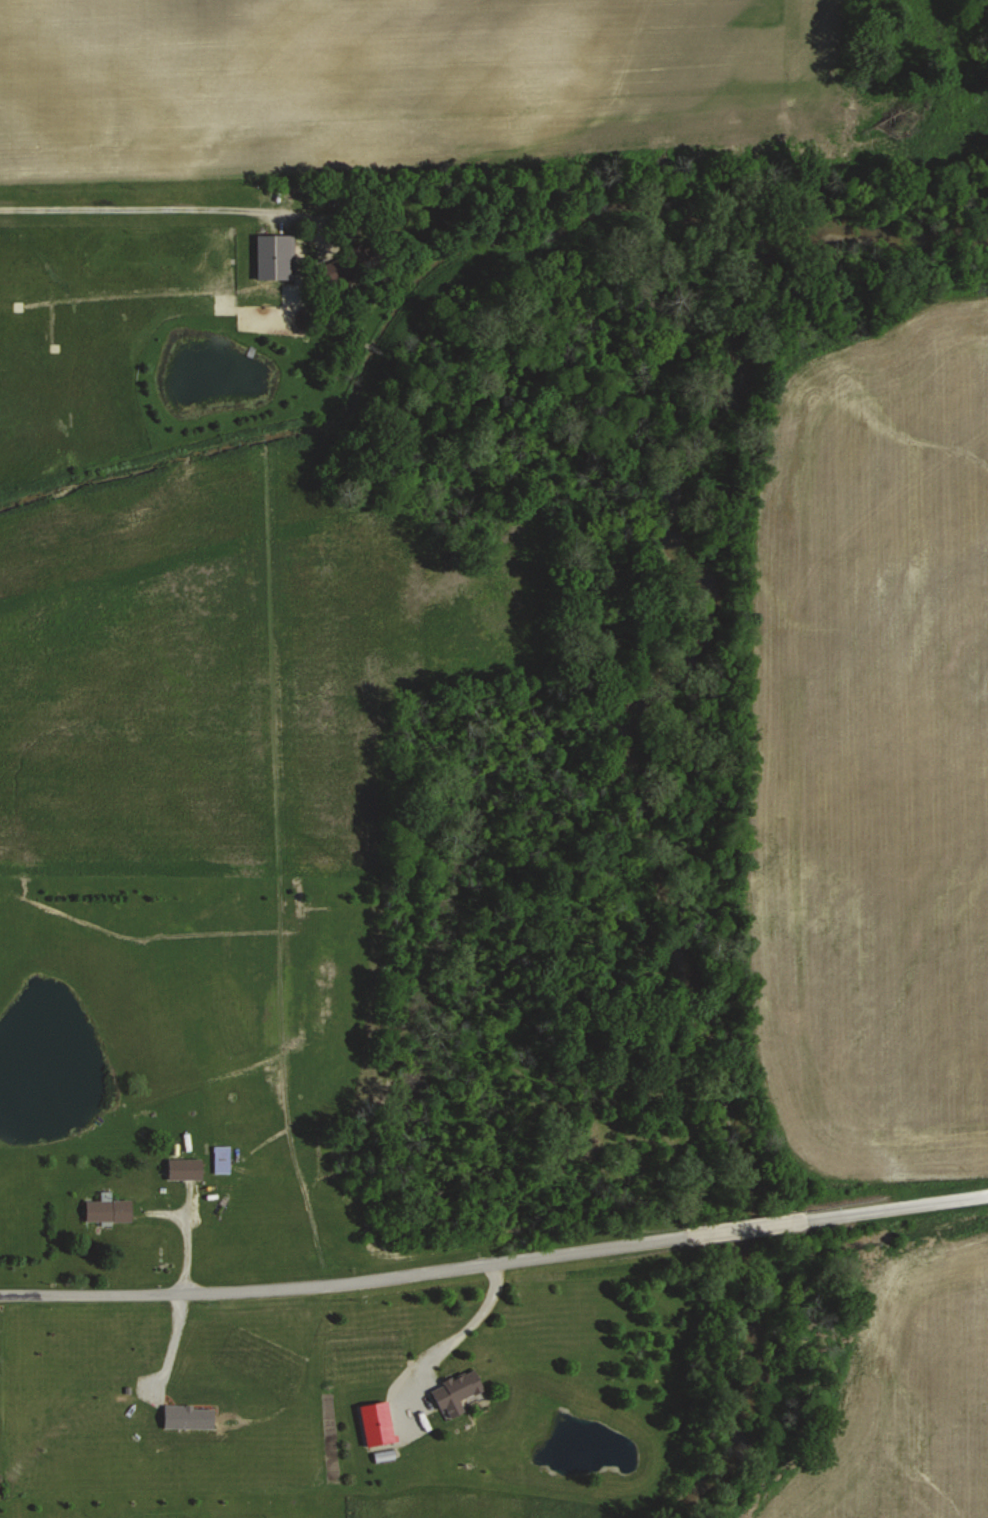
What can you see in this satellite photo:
road: (145, 207)
building: (276, 256)
building: (352, 266)
building: (223, 1159)
building: (186, 1168)
building: (110, 1209)
building: (793, 1220)
road: (495, 1262)
road: (457, 1334)
building: (457, 1391)
building: (386, 1454)

